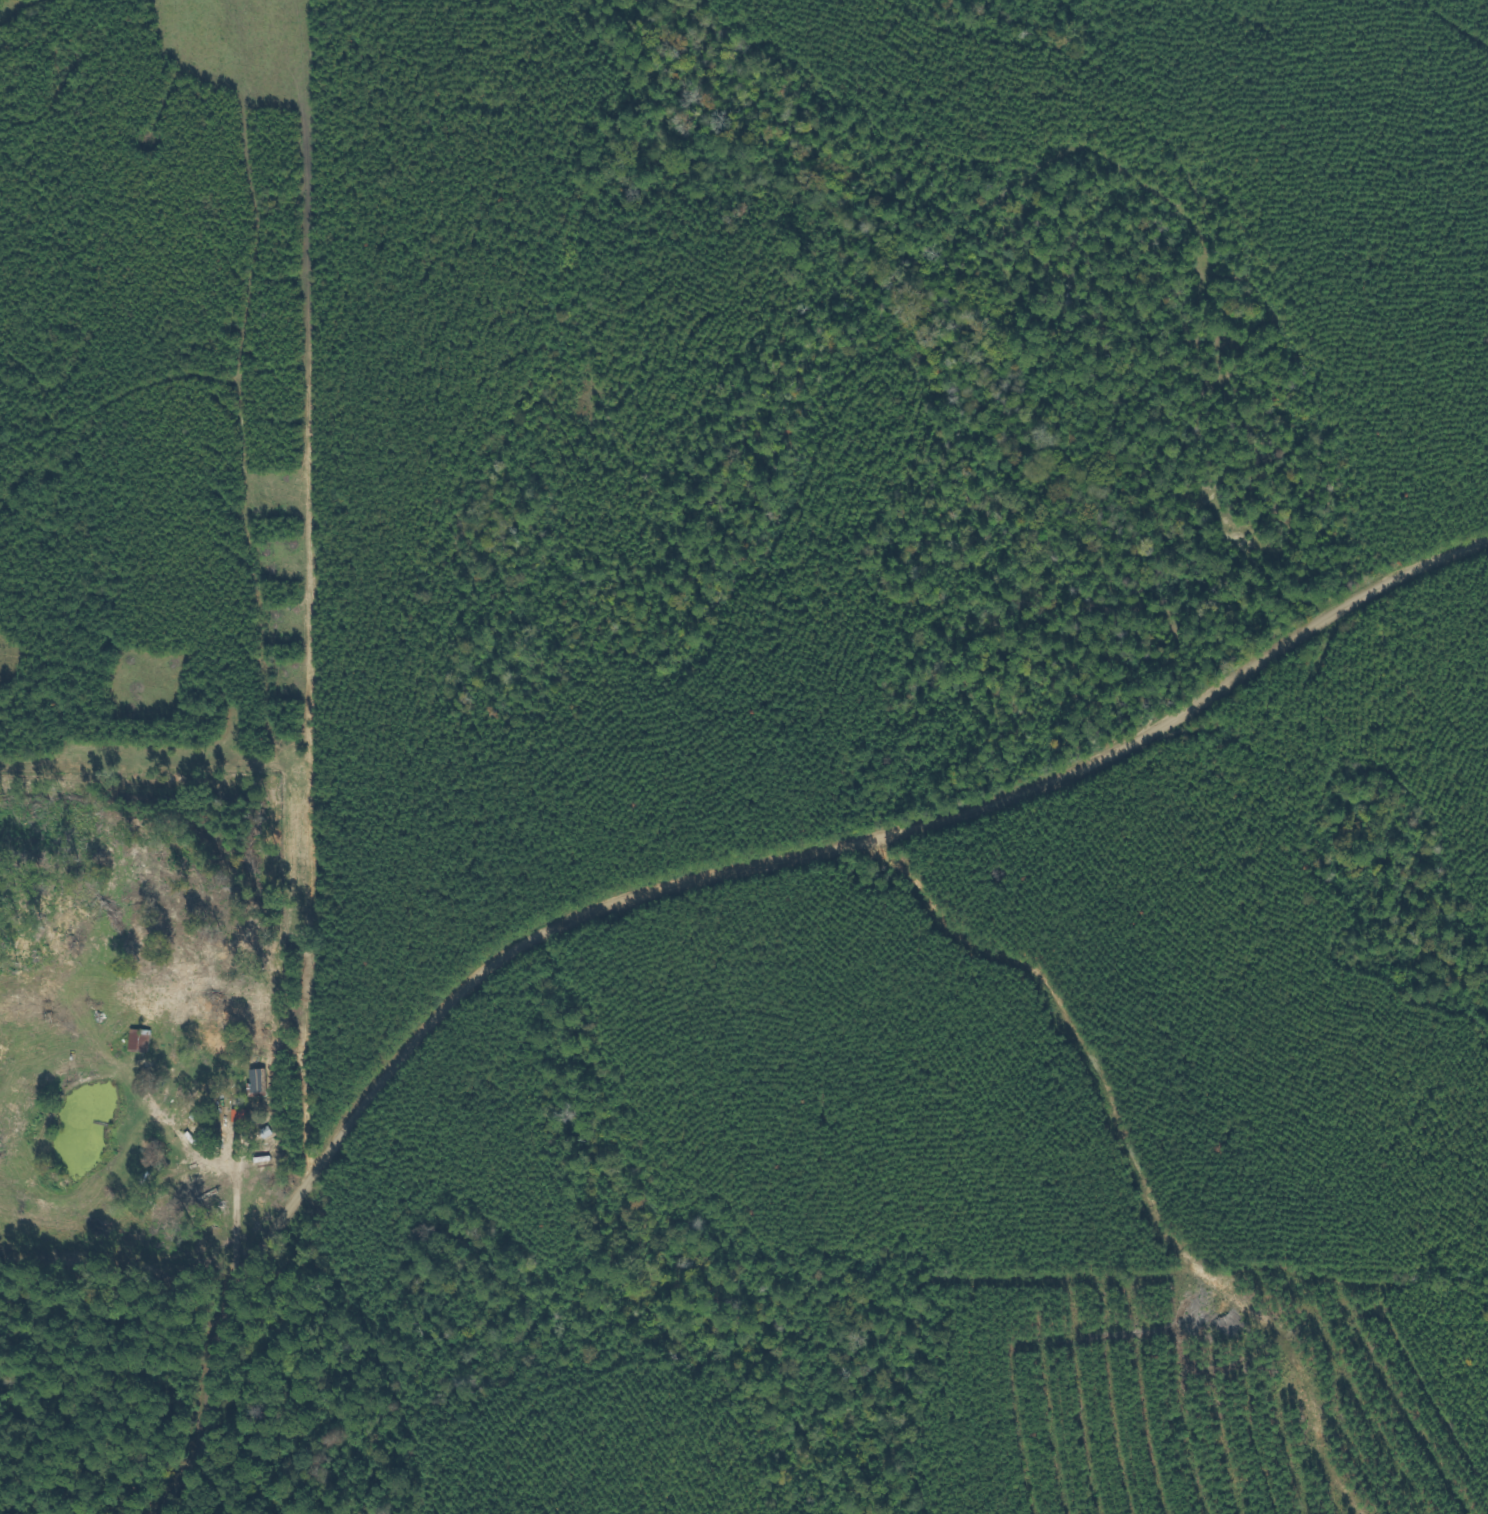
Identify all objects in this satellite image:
road: (681, 894)
building: (130, 1039)
building: (254, 1080)

